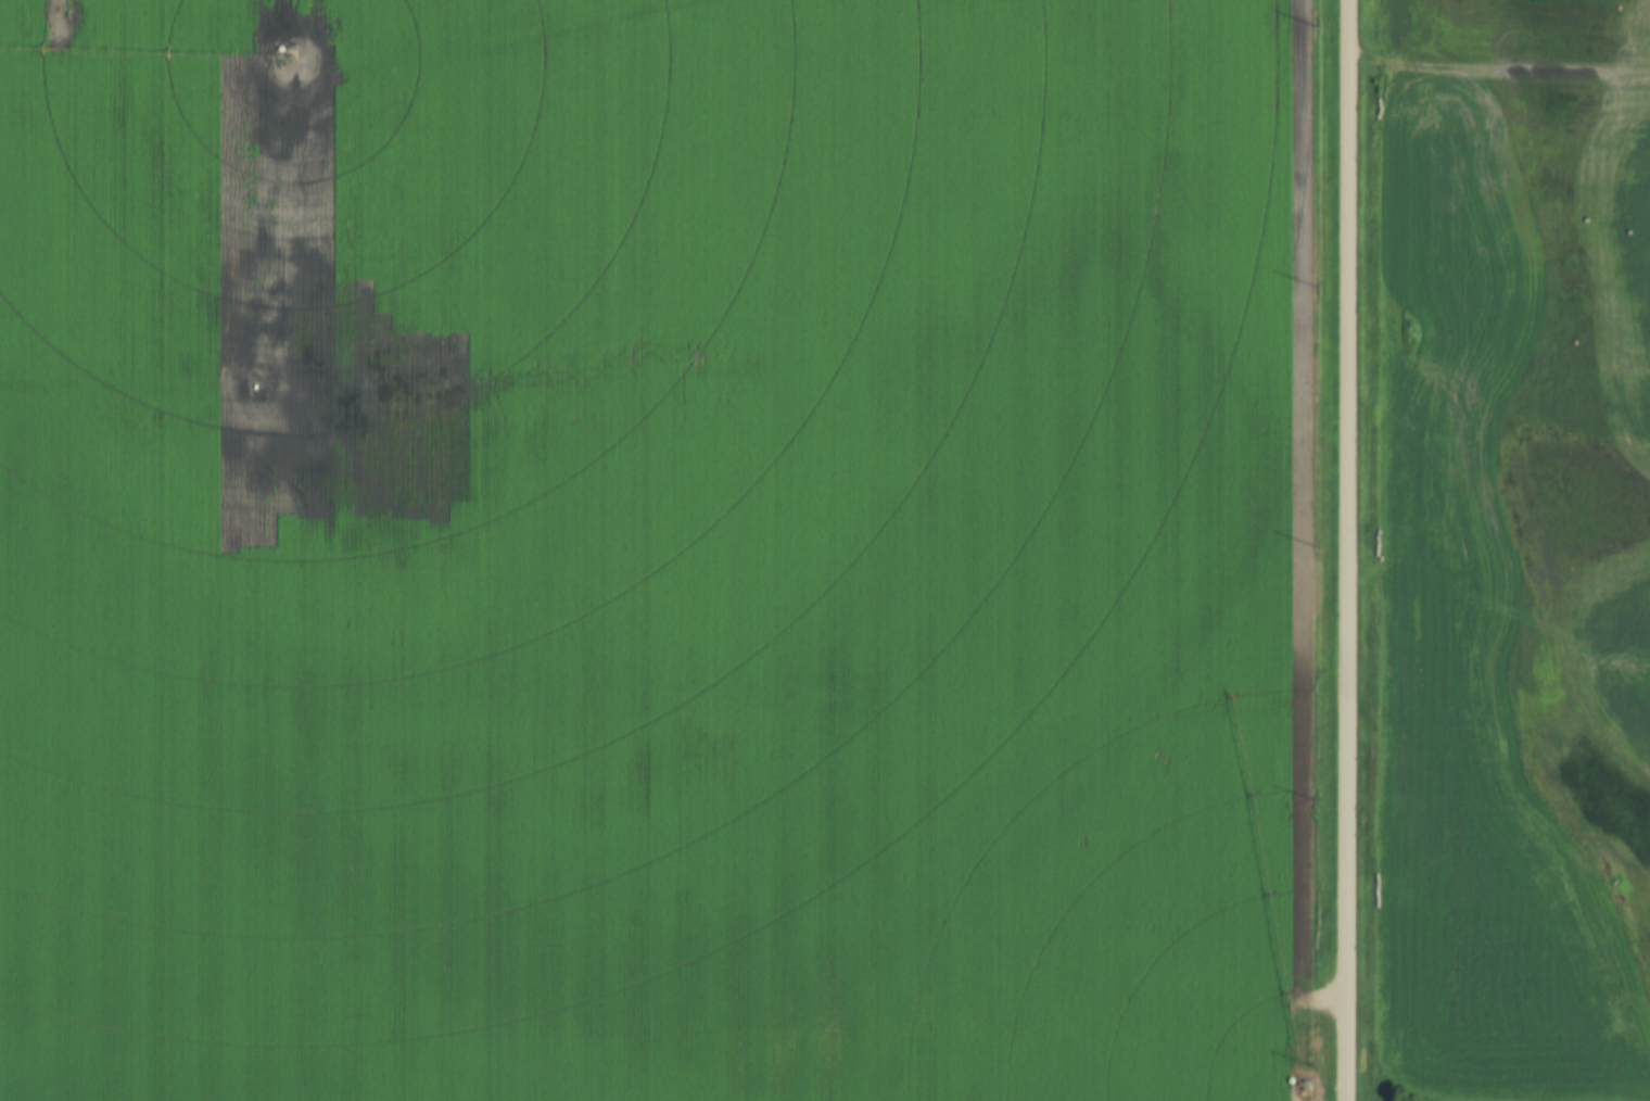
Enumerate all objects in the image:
road: (1350, 550)

